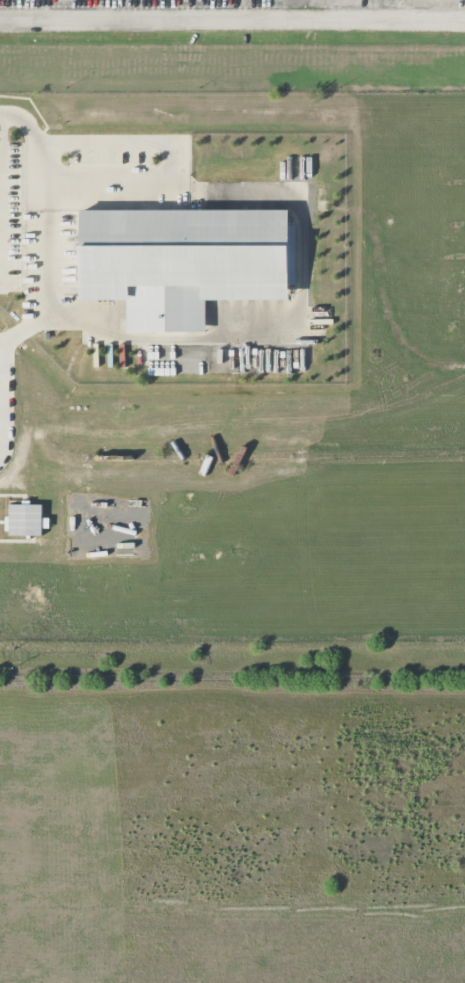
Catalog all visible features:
road: (232, 18)
road: (119, 144)
road: (301, 218)
road: (52, 245)
building: (182, 262)
road: (26, 330)
road: (0, 420)
railway: (190, 457)
building: (25, 521)

